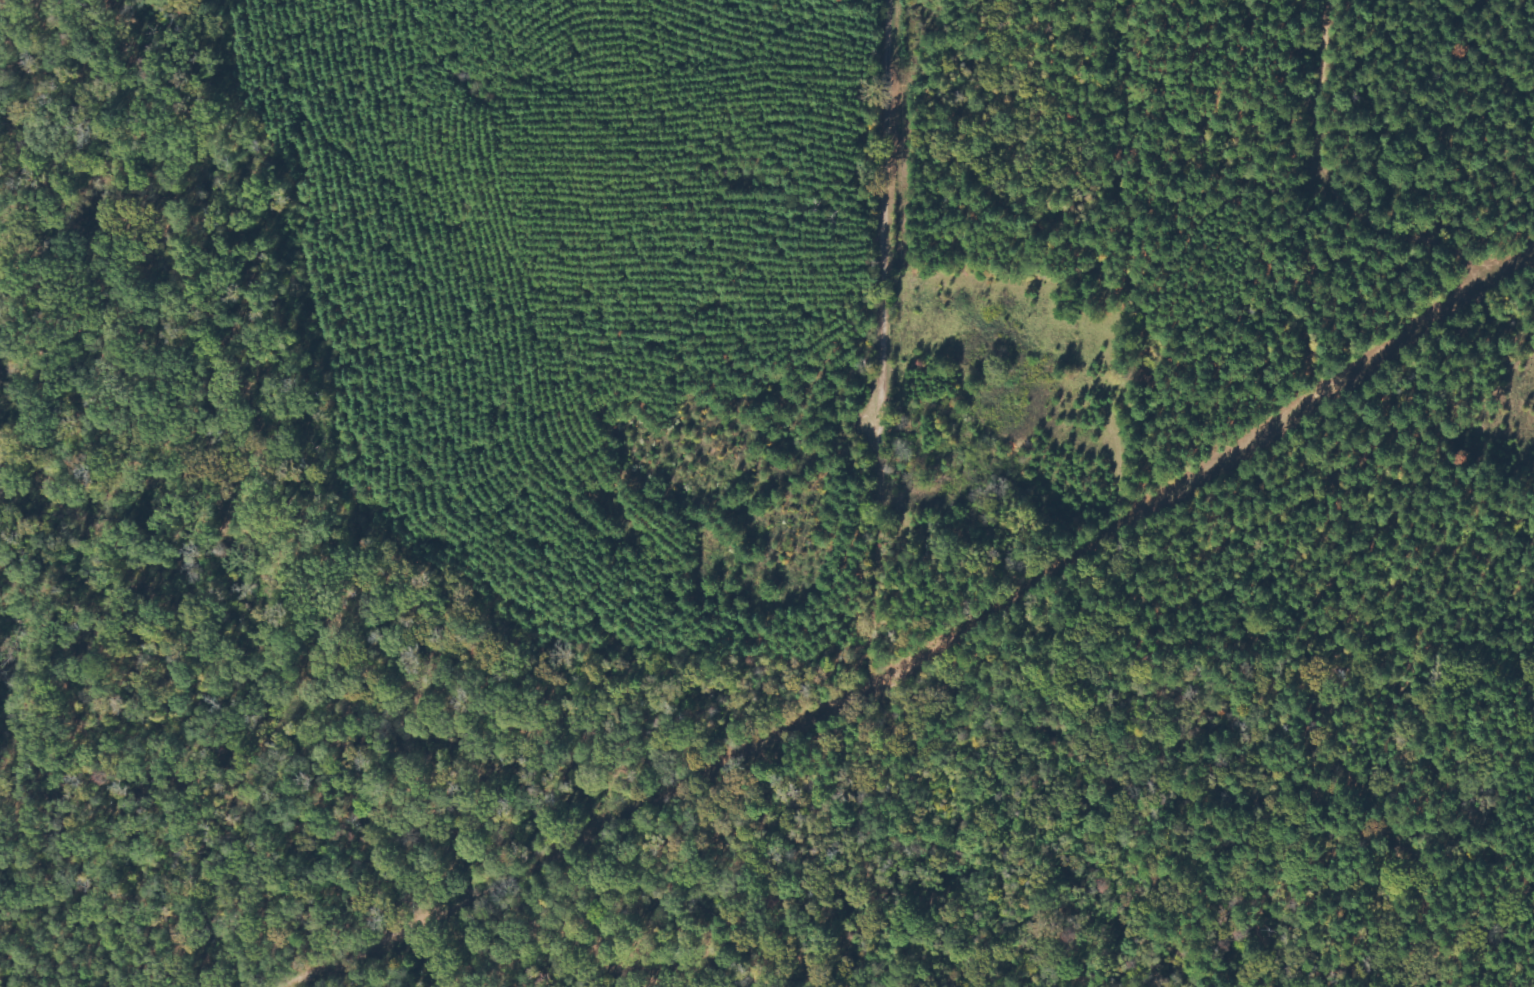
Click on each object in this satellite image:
road: (892, 223)

